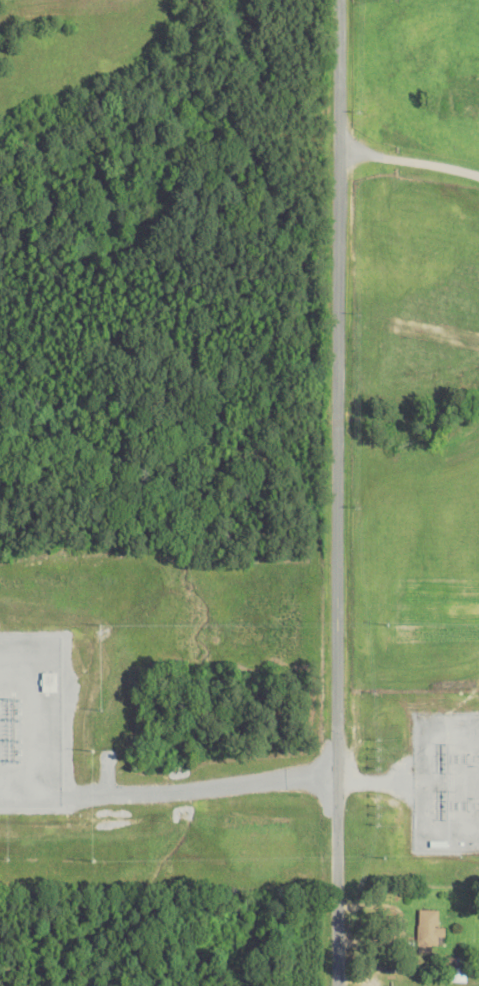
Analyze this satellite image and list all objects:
road: (409, 161)
road: (337, 493)
power substation: (36, 719)
power substation: (446, 783)
building: (432, 930)
building: (458, 975)

